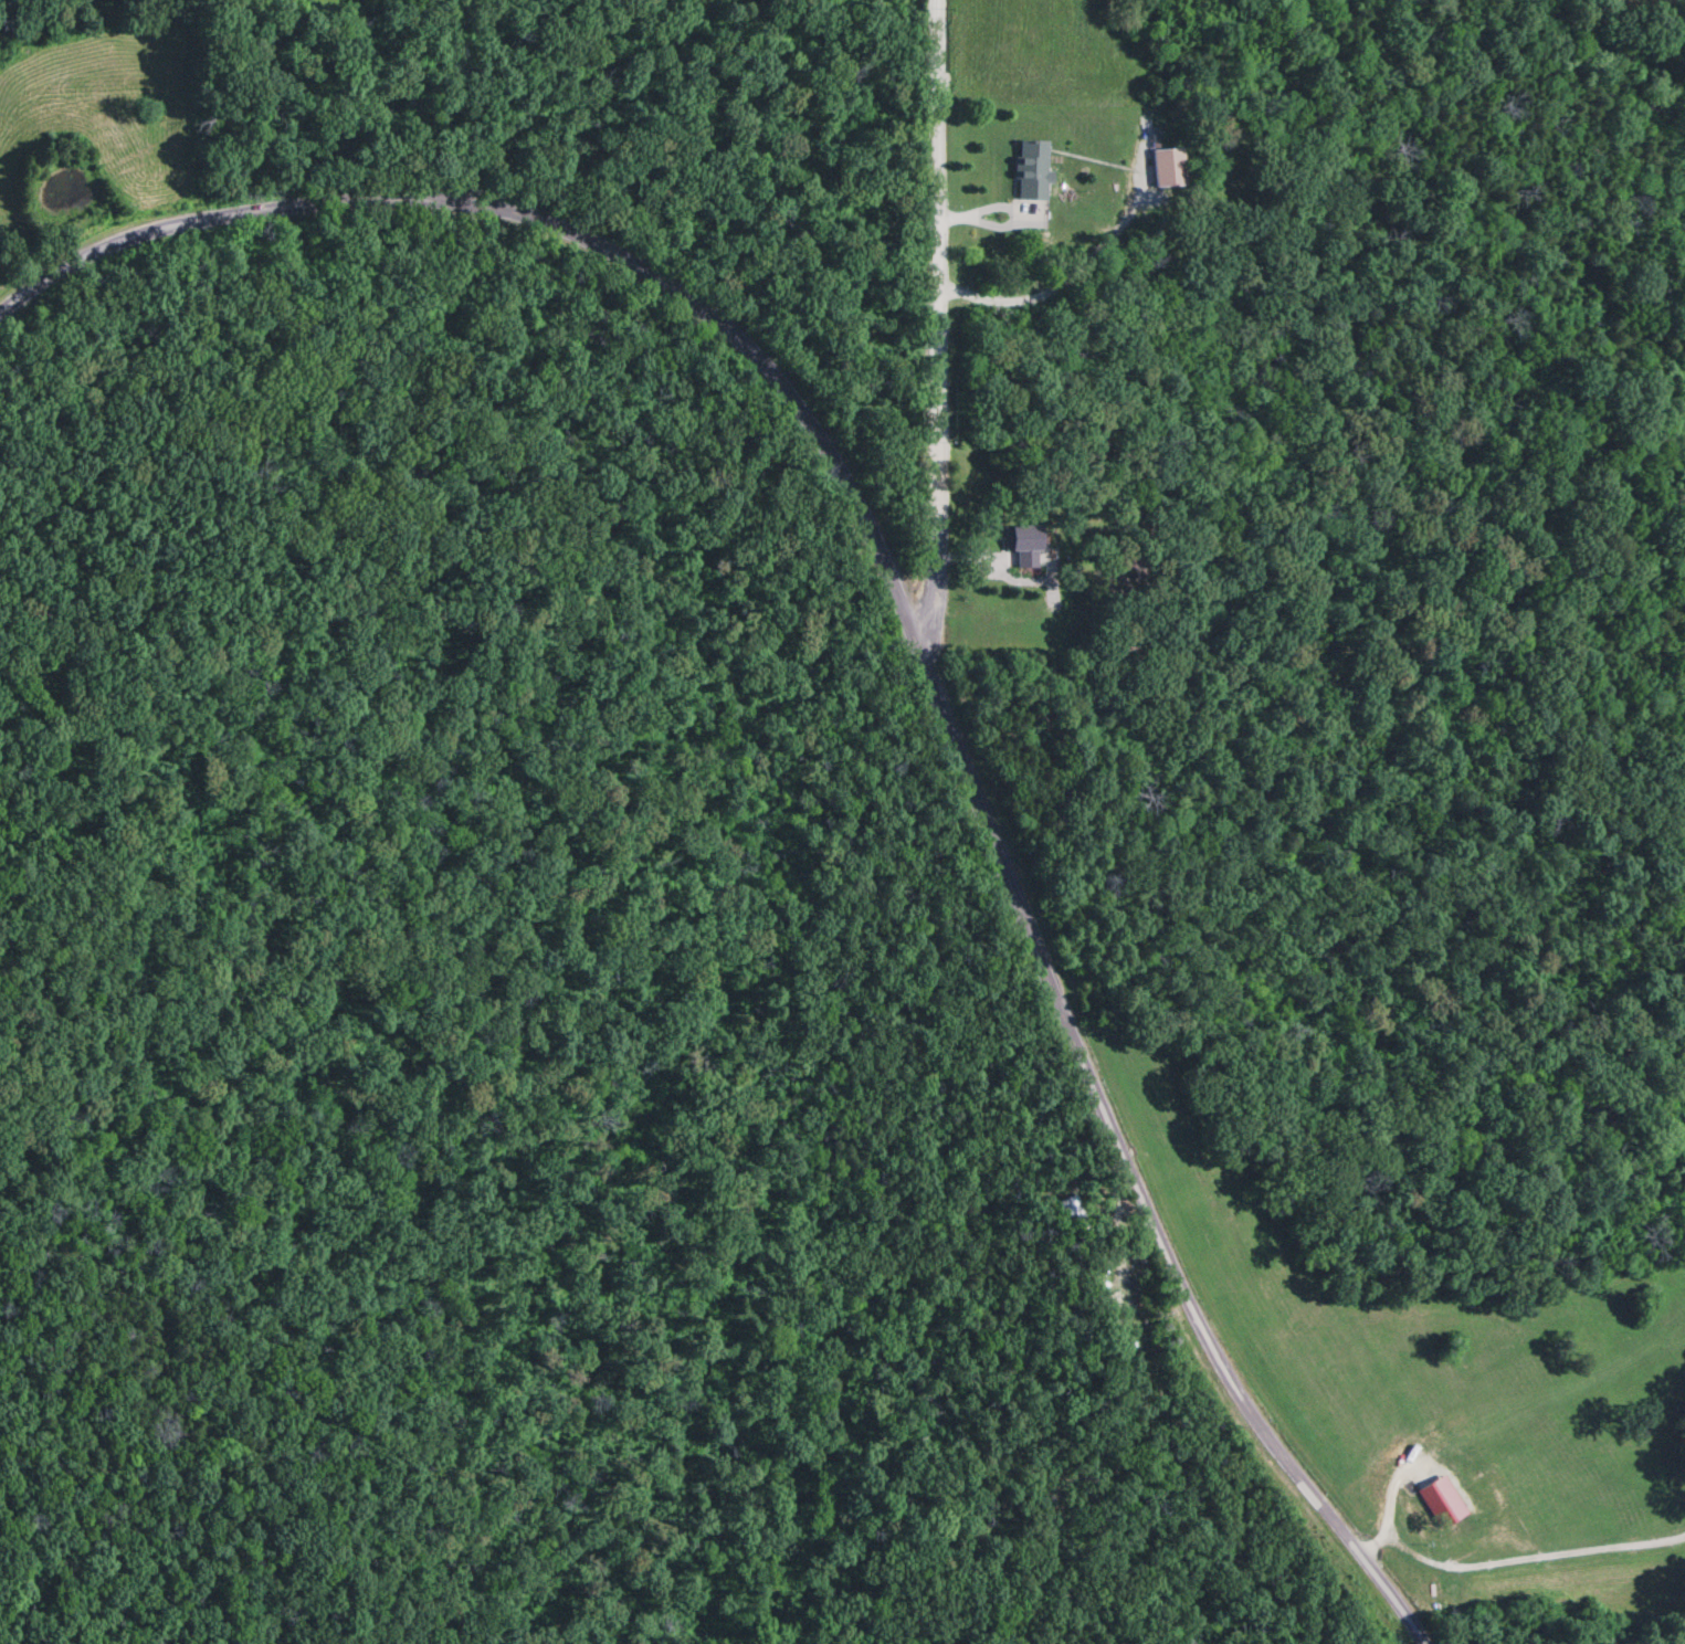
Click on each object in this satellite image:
building: (1161, 170)
building: (1025, 172)
road: (936, 257)
building: (1019, 547)
road: (928, 621)
building: (1075, 1221)
road: (1515, 1561)

